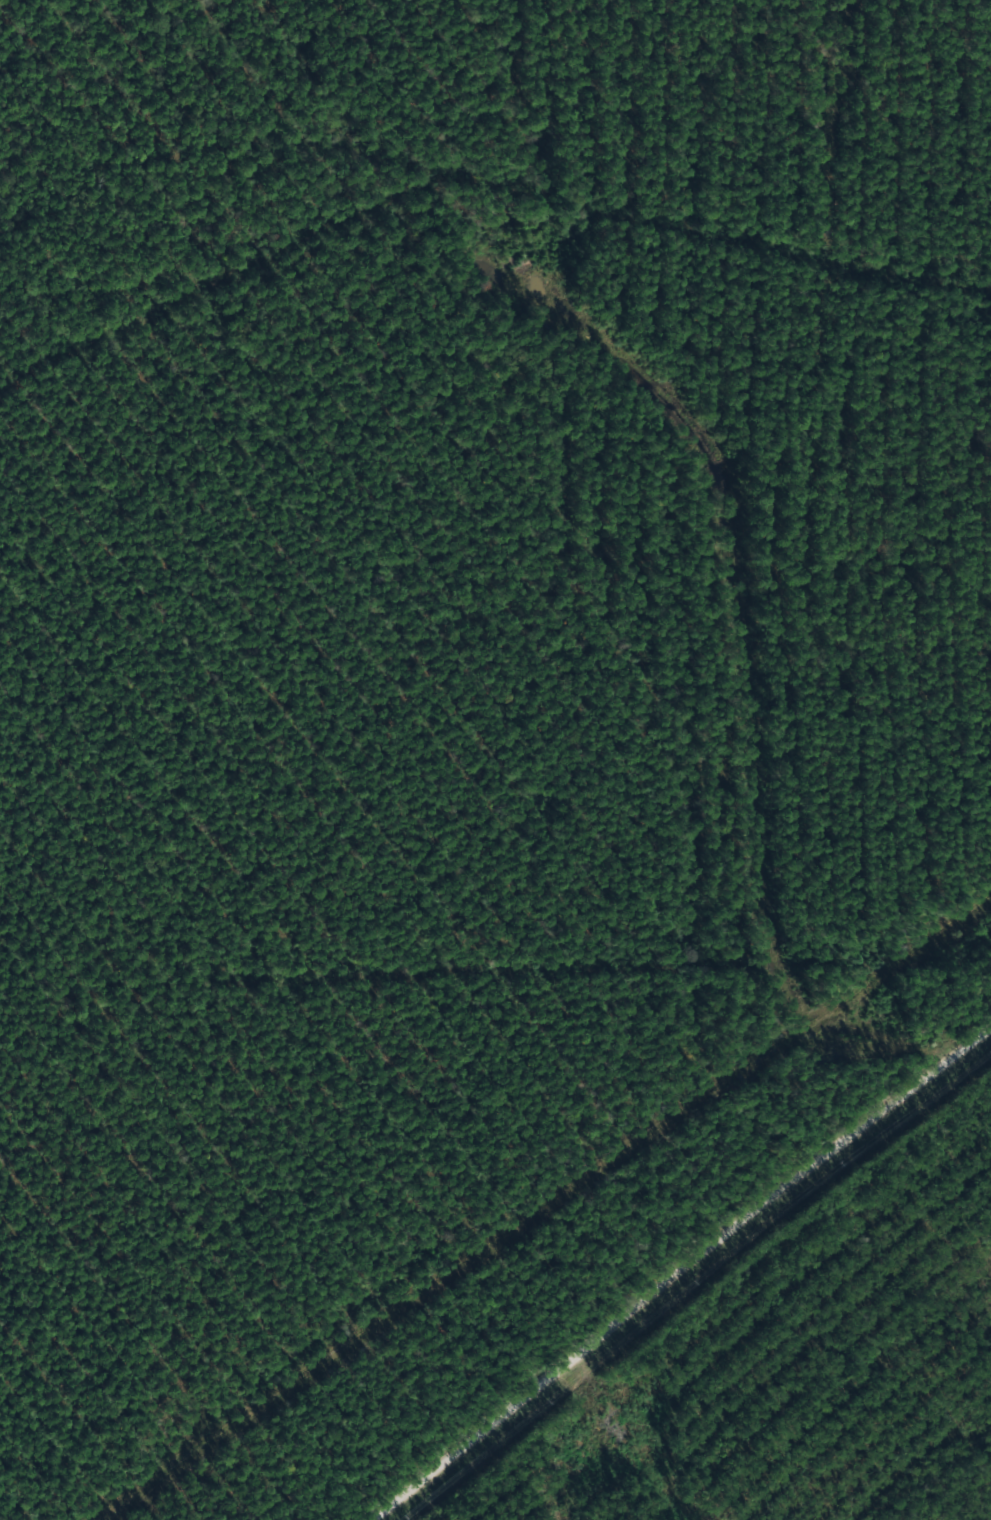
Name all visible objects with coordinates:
road: (679, 1272)

